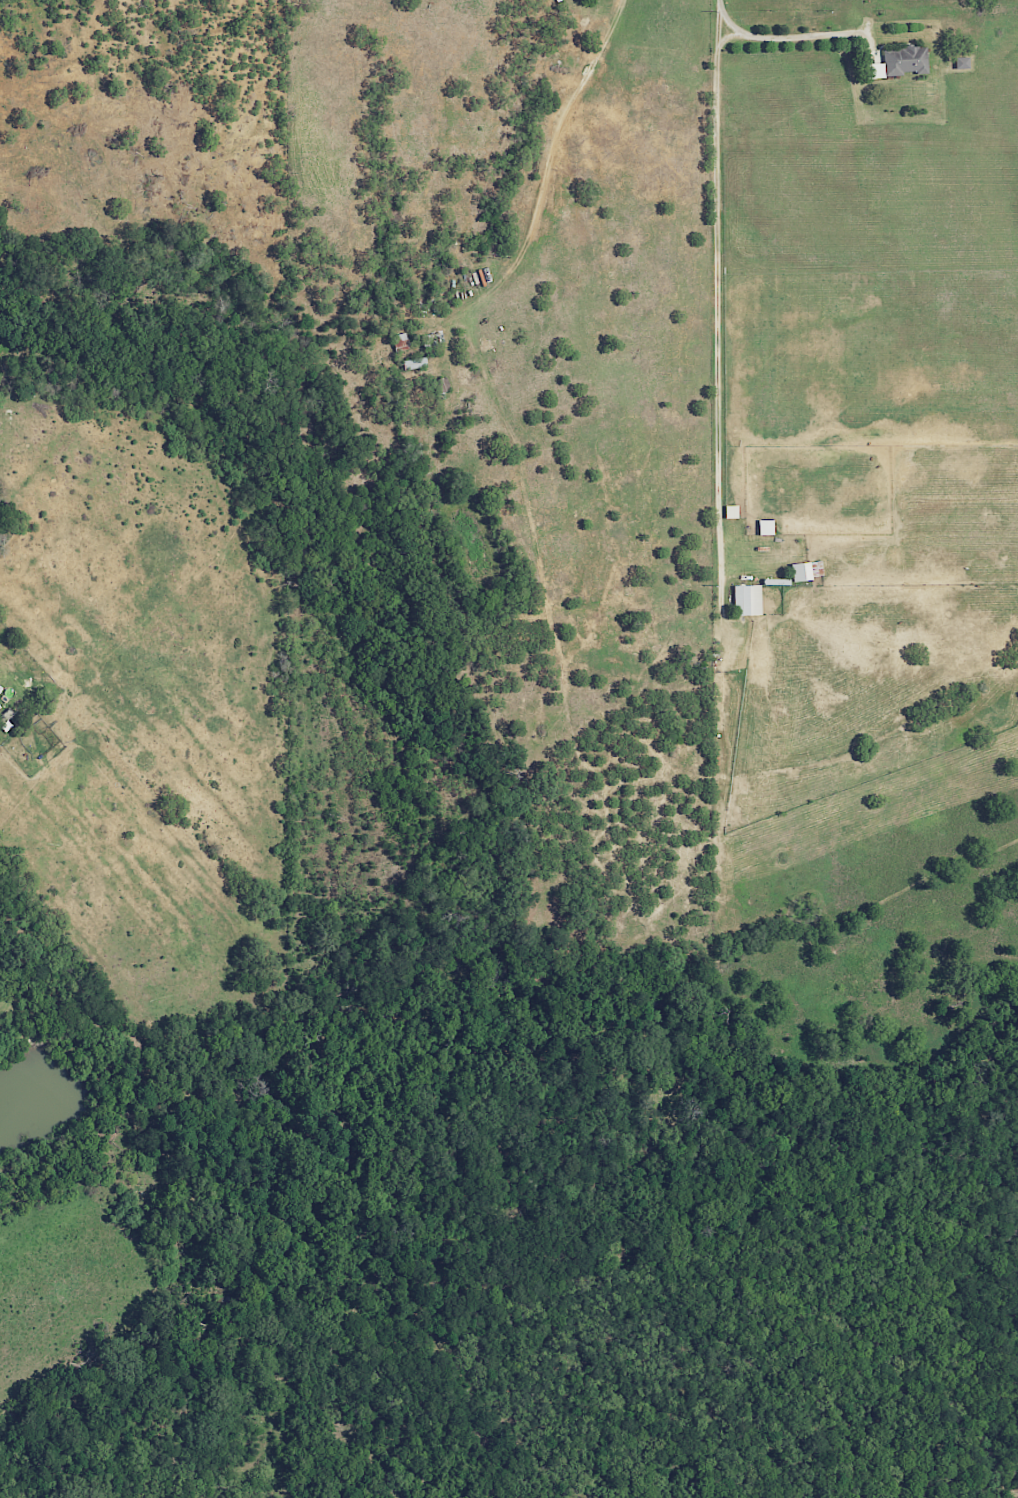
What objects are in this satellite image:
road: (785, 38)
building: (901, 62)
building: (963, 62)
road: (716, 290)
building: (401, 342)
building: (416, 363)
building: (747, 600)

